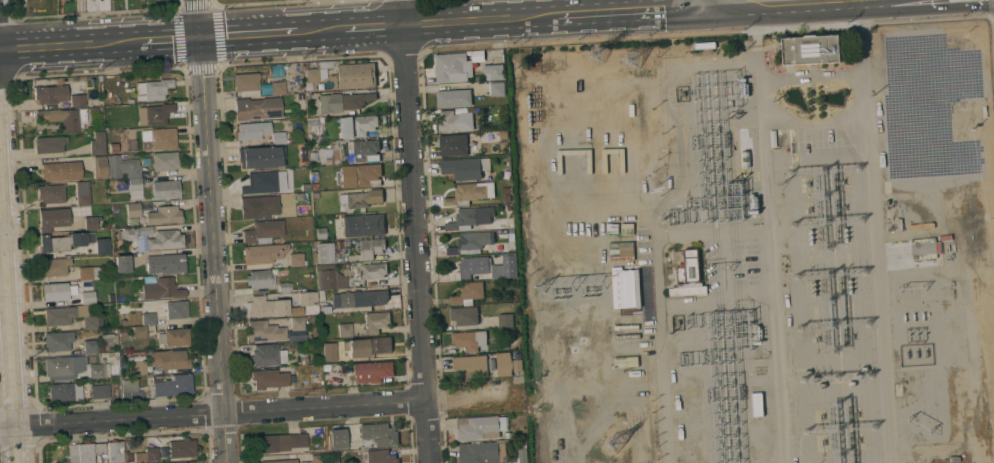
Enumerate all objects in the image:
road: (696, 4)
road: (751, 4)
road: (178, 8)
road: (403, 12)
road: (628, 12)
road: (196, 19)
road: (483, 20)
road: (373, 27)
road: (319, 31)
road: (247, 35)
power tower: (639, 36)
traffic signals: (198, 38)
power tower: (602, 38)
road: (167, 40)
building: (705, 45)
road: (68, 46)
building: (811, 49)
building: (453, 68)
building: (493, 72)
building: (356, 75)
building: (313, 76)
building: (246, 83)
building: (277, 88)
building: (497, 88)
building: (152, 89)
building: (50, 94)
building: (454, 98)
building: (77, 100)
building: (342, 101)
building: (257, 108)
building: (154, 114)
building: (67, 117)
building: (455, 121)
building: (356, 125)
building: (312, 126)
building: (252, 130)
building: (278, 137)
building: (158, 138)
building: (312, 138)
building: (773, 138)
building: (97, 143)
building: (49, 144)
building: (453, 145)
building: (310, 146)
building: (350, 151)
building: (261, 156)
building: (313, 156)
building: (745, 159)
building: (164, 161)
building: (99, 167)
building: (122, 167)
building: (465, 168)
building: (60, 171)
building: (313, 175)
building: (360, 175)
building: (260, 182)
building: (314, 186)
building: (305, 187)
building: (135, 188)
building: (165, 190)
building: (507, 190)
building: (50, 193)
building: (82, 193)
building: (470, 193)
building: (306, 197)
building: (507, 197)
building: (360, 198)
building: (262, 205)
building: (114, 206)
building: (132, 210)
building: (306, 211)
building: (163, 215)
building: (471, 216)
building: (52, 219)
building: (91, 222)
building: (363, 224)
building: (107, 226)
building: (263, 231)
building: (320, 232)
road: (1, 234)
building: (127, 234)
building: (165, 239)
building: (64, 241)
building: (469, 243)
road: (415, 244)
building: (102, 245)
power substation: (759, 246)
building: (371, 247)
building: (924, 248)
road: (214, 250)
building: (626, 251)
building: (324, 252)
building: (263, 253)
building: (143, 258)
building: (295, 259)
building: (121, 264)
building: (169, 264)
building: (510, 265)
building: (473, 266)
building: (53, 267)
building: (367, 271)
building: (90, 272)
building: (688, 275)
building: (137, 279)
building: (259, 279)
building: (327, 279)
building: (284, 287)
building: (159, 288)
building: (623, 289)
building: (57, 291)
building: (468, 293)
building: (321, 295)
building: (87, 297)
building: (514, 297)
building: (305, 298)
building: (362, 298)
building: (266, 307)
building: (175, 309)
building: (59, 315)
building: (464, 315)
building: (148, 318)
building: (507, 319)
building: (375, 321)
road: (8, 322)
building: (89, 322)
road: (189, 322)
building: (297, 323)
building: (344, 330)
building: (139, 331)
building: (265, 331)
building: (174, 337)
building: (106, 339)
building: (57, 340)
building: (469, 340)
building: (90, 346)
building: (369, 346)
building: (99, 349)
building: (329, 351)
building: (110, 354)
building: (267, 355)
building: (302, 358)
building: (169, 359)
building: (517, 363)
building: (137, 364)
building: (504, 364)
building: (63, 365)
building: (471, 365)
building: (98, 370)
building: (372, 371)
building: (315, 377)
building: (268, 378)
building: (174, 385)
building: (131, 389)
building: (99, 390)
building: (65, 391)
building: (757, 404)
road: (249, 411)
building: (480, 427)
building: (329, 429)
building: (378, 435)
building: (506, 435)
building: (336, 441)
building: (278, 443)
building: (182, 447)
building: (100, 448)
power tower: (621, 448)
building: (115, 452)
building: (484, 452)
building: (80, 453)
building: (151, 454)
building: (139, 455)
building: (522, 455)
building: (163, 456)
building: (380, 456)
building: (333, 457)
building: (315, 459)
building: (280, 461)
building: (178, 462)
building: (189, 462)

